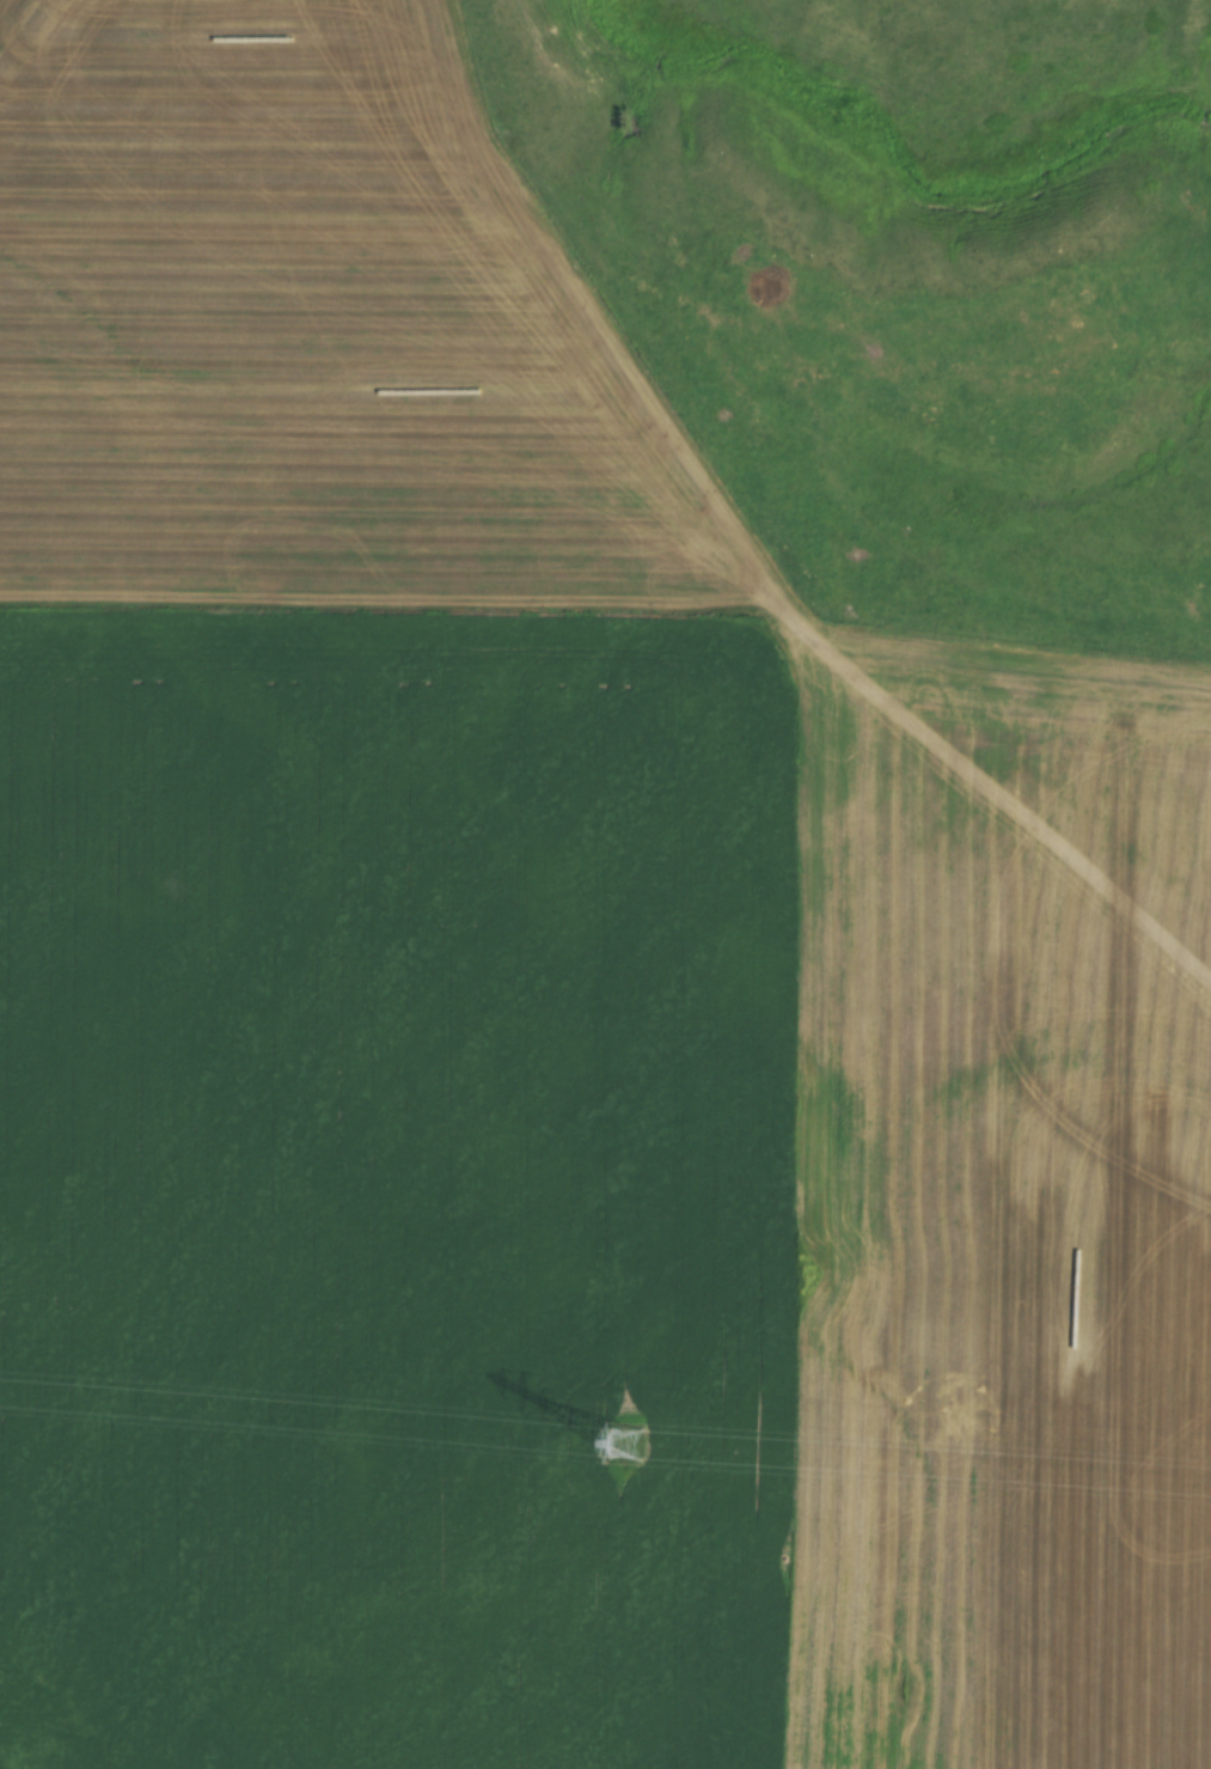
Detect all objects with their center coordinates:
power tower: (623, 1447)

